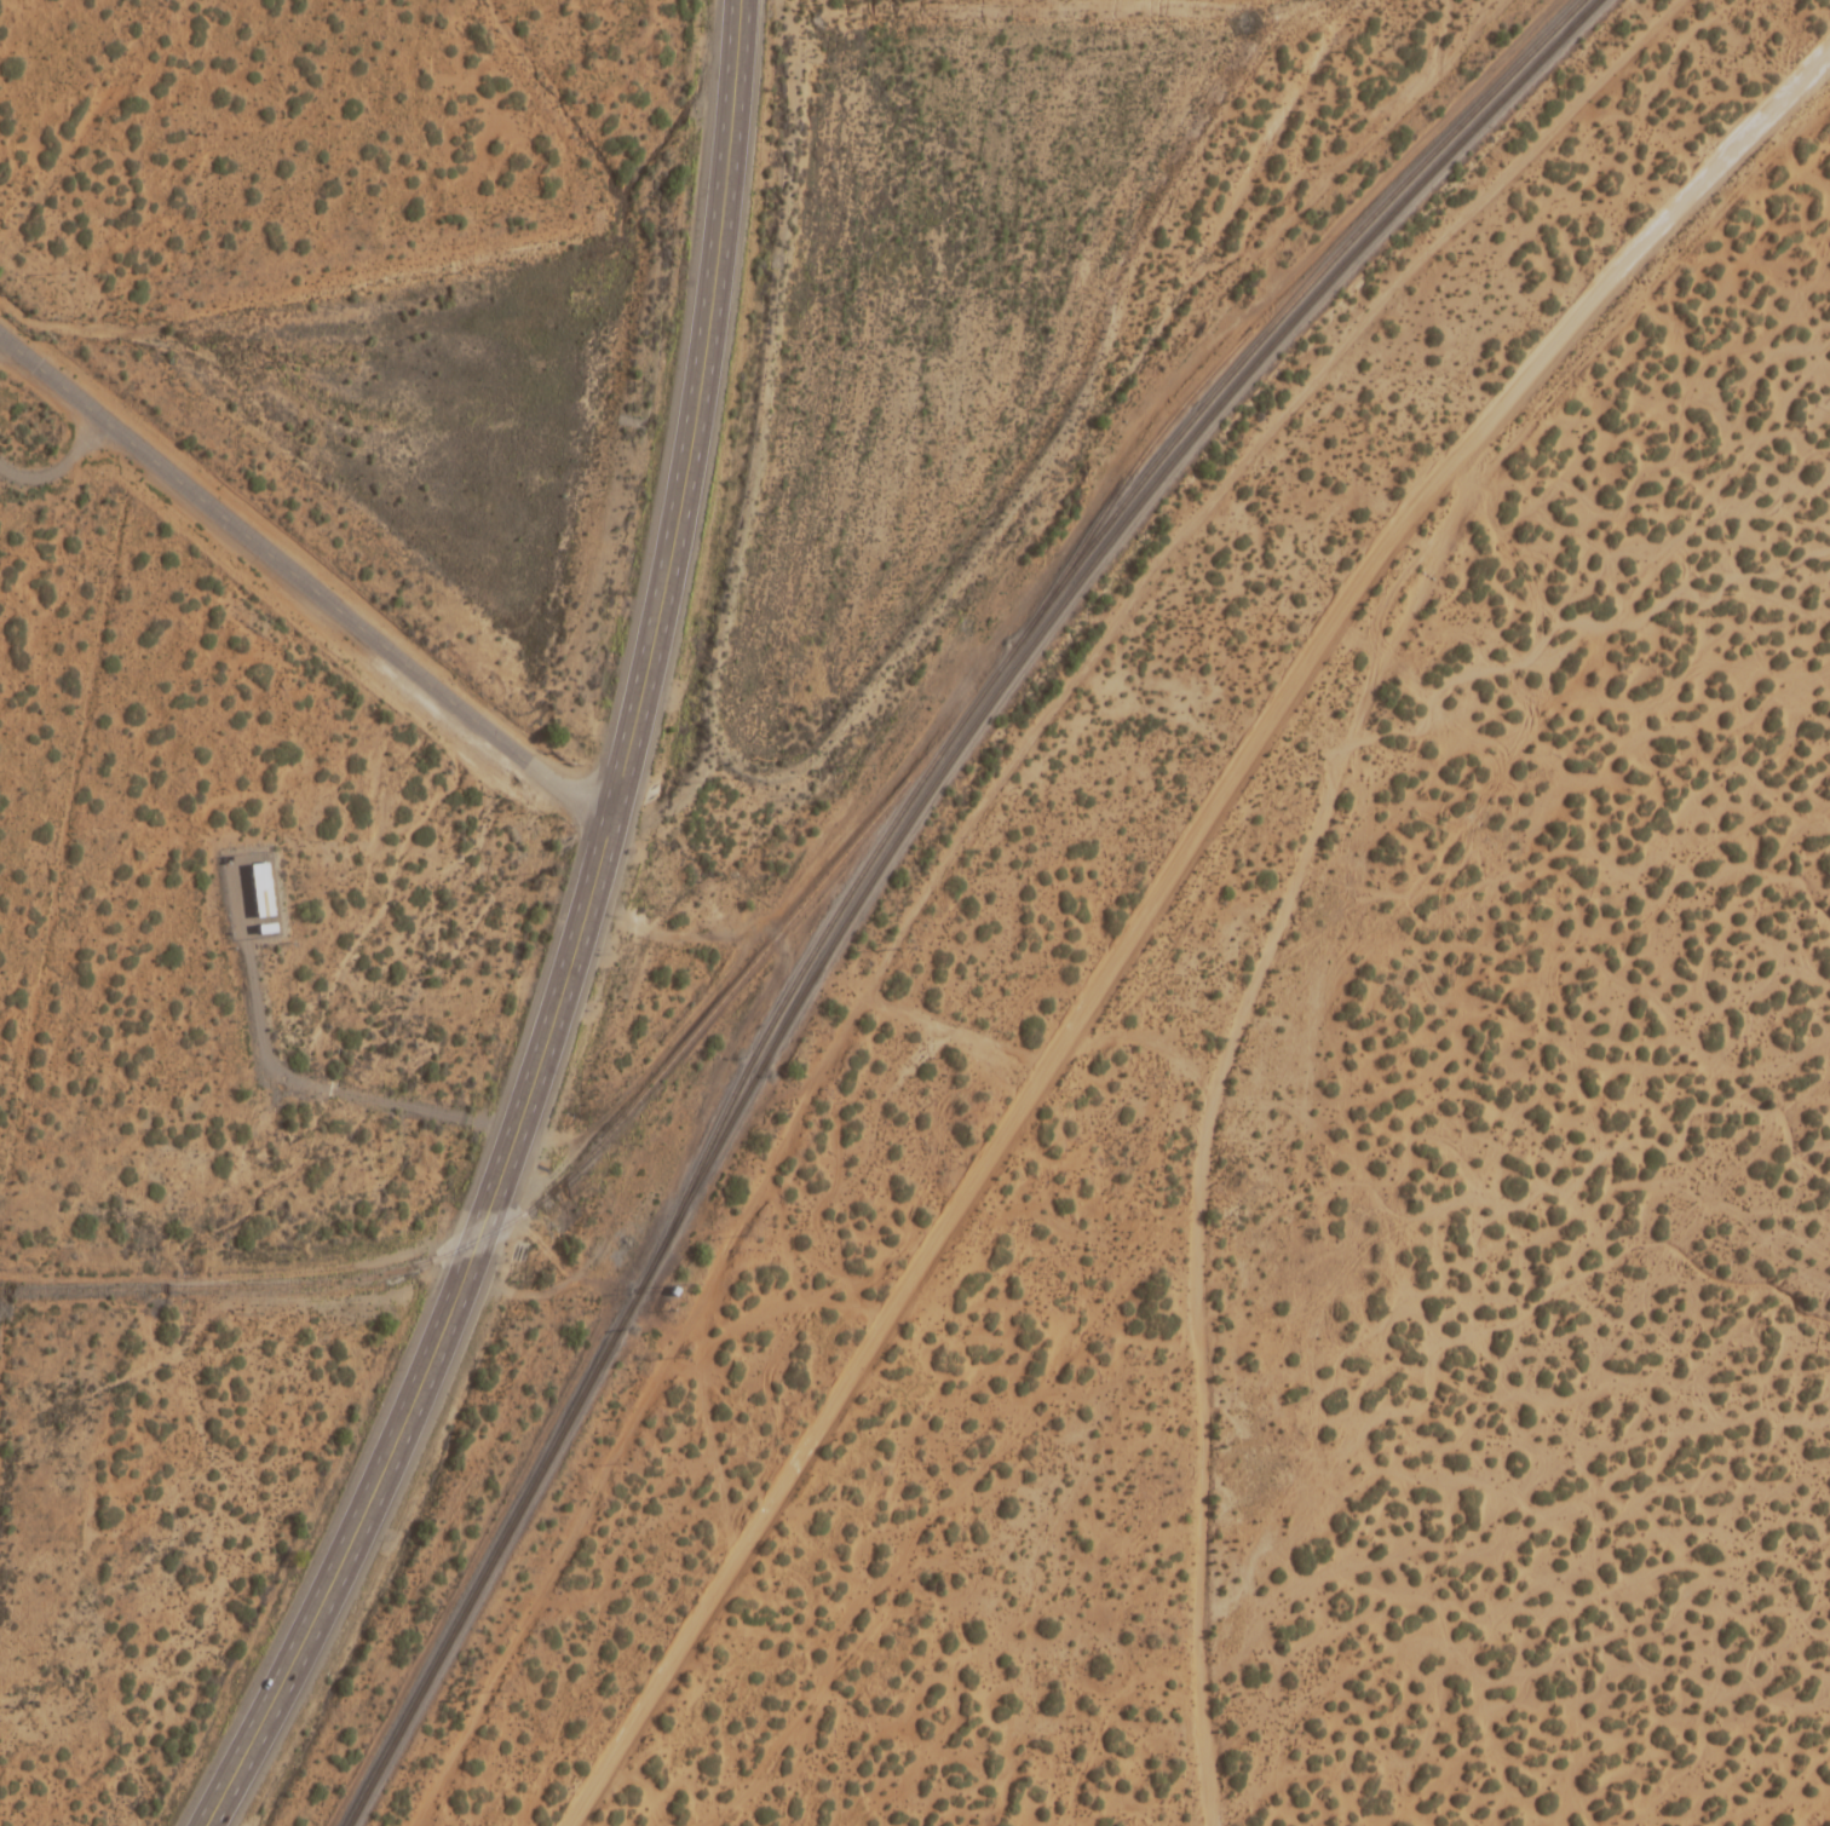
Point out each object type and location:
railway: (1132, 470)
road: (301, 581)
railway: (1060, 582)
railway: (1075, 584)
road: (844, 726)
road: (1297, 857)
building: (257, 891)
road: (576, 944)
railway: (583, 1160)
road: (966, 1225)
railway: (503, 1538)

